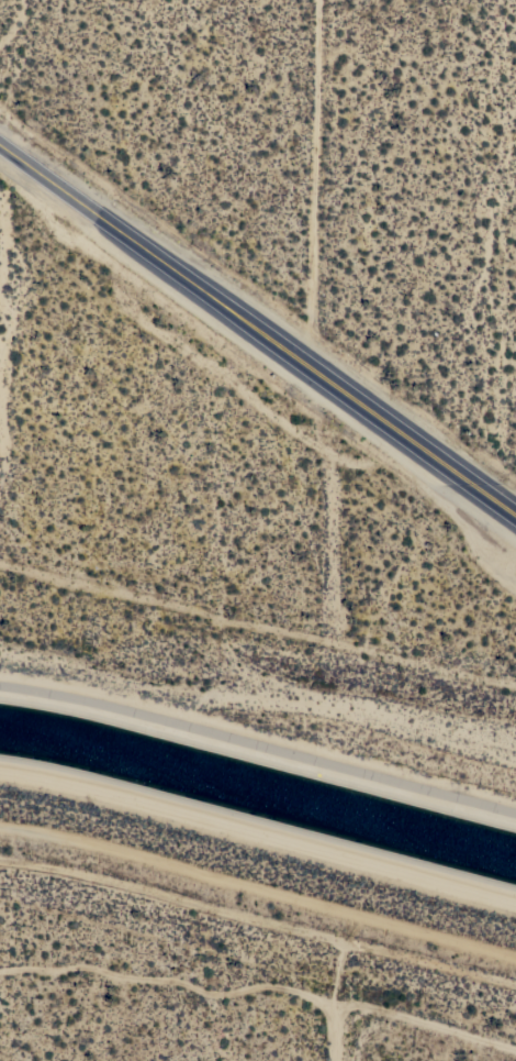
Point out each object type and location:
road: (258, 322)
road: (435, 932)
road: (258, 977)
road: (338, 985)

